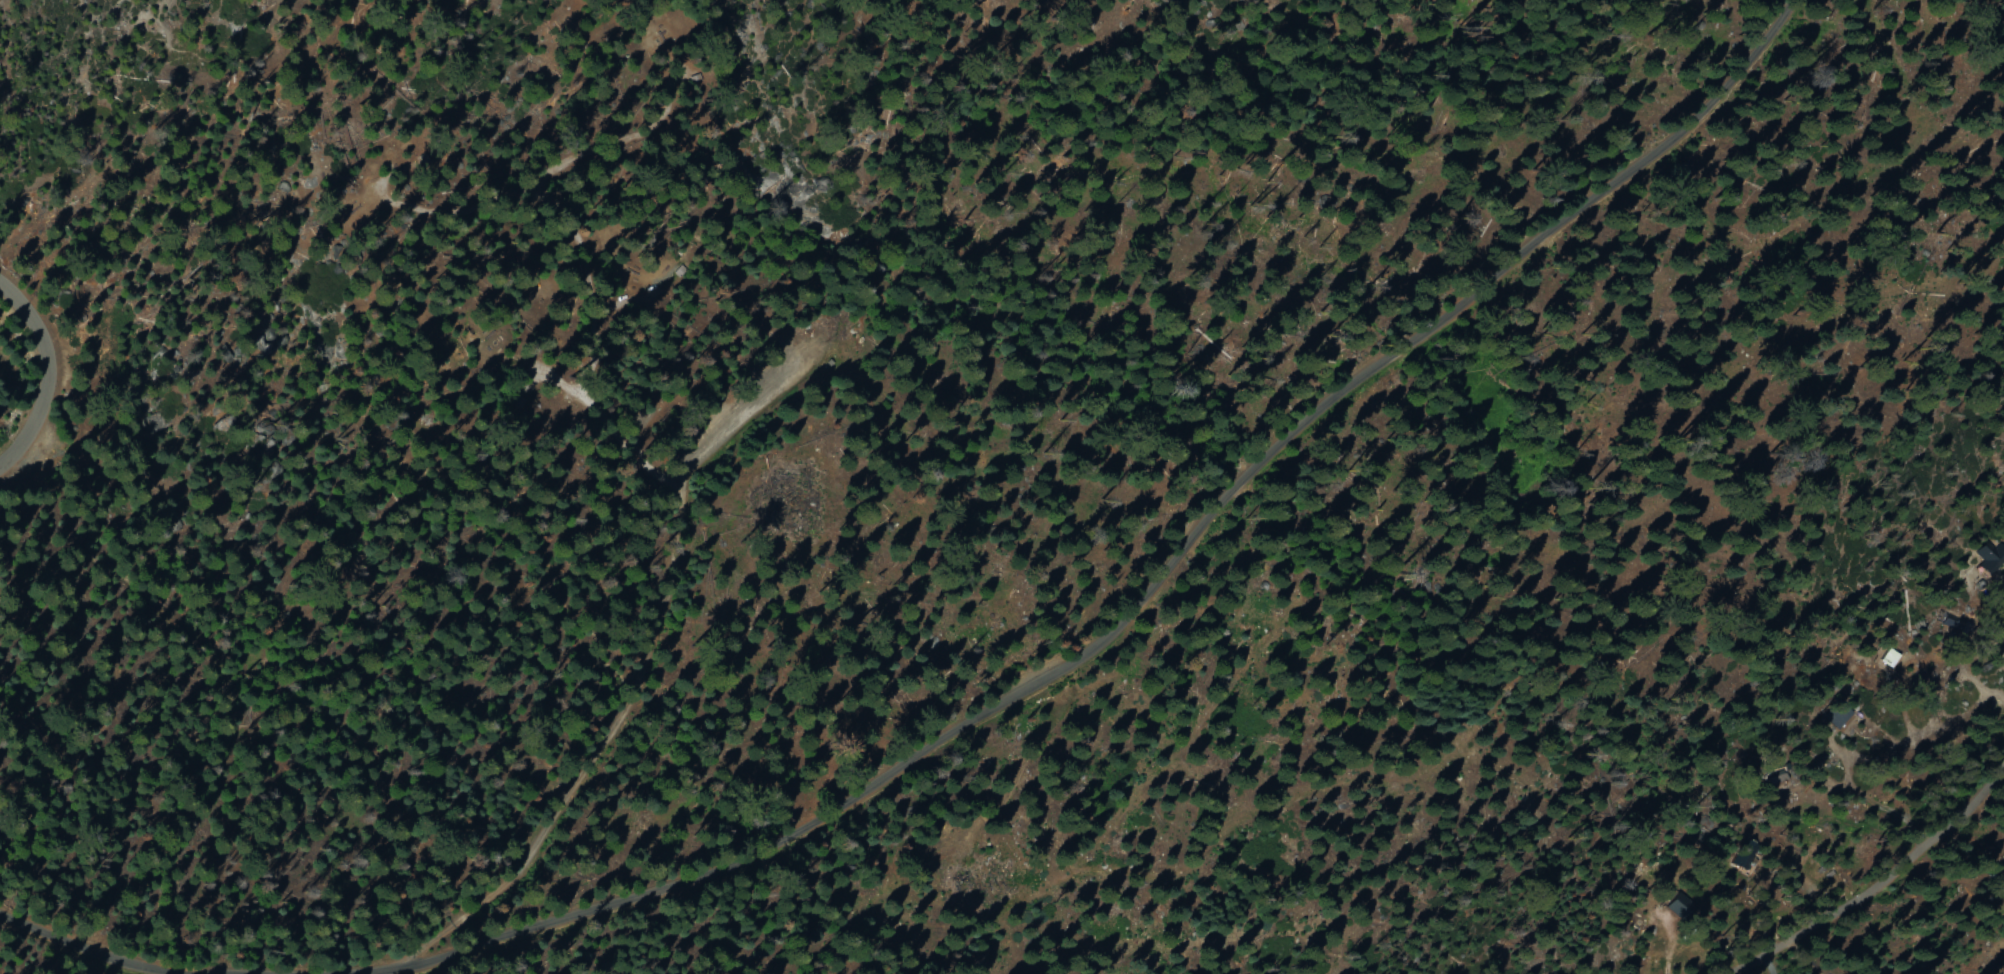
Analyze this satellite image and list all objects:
road: (587, 372)
road: (51, 378)
road: (743, 412)
building: (1987, 556)
road: (1155, 579)
road: (638, 669)
road: (1880, 886)
road: (81, 948)

